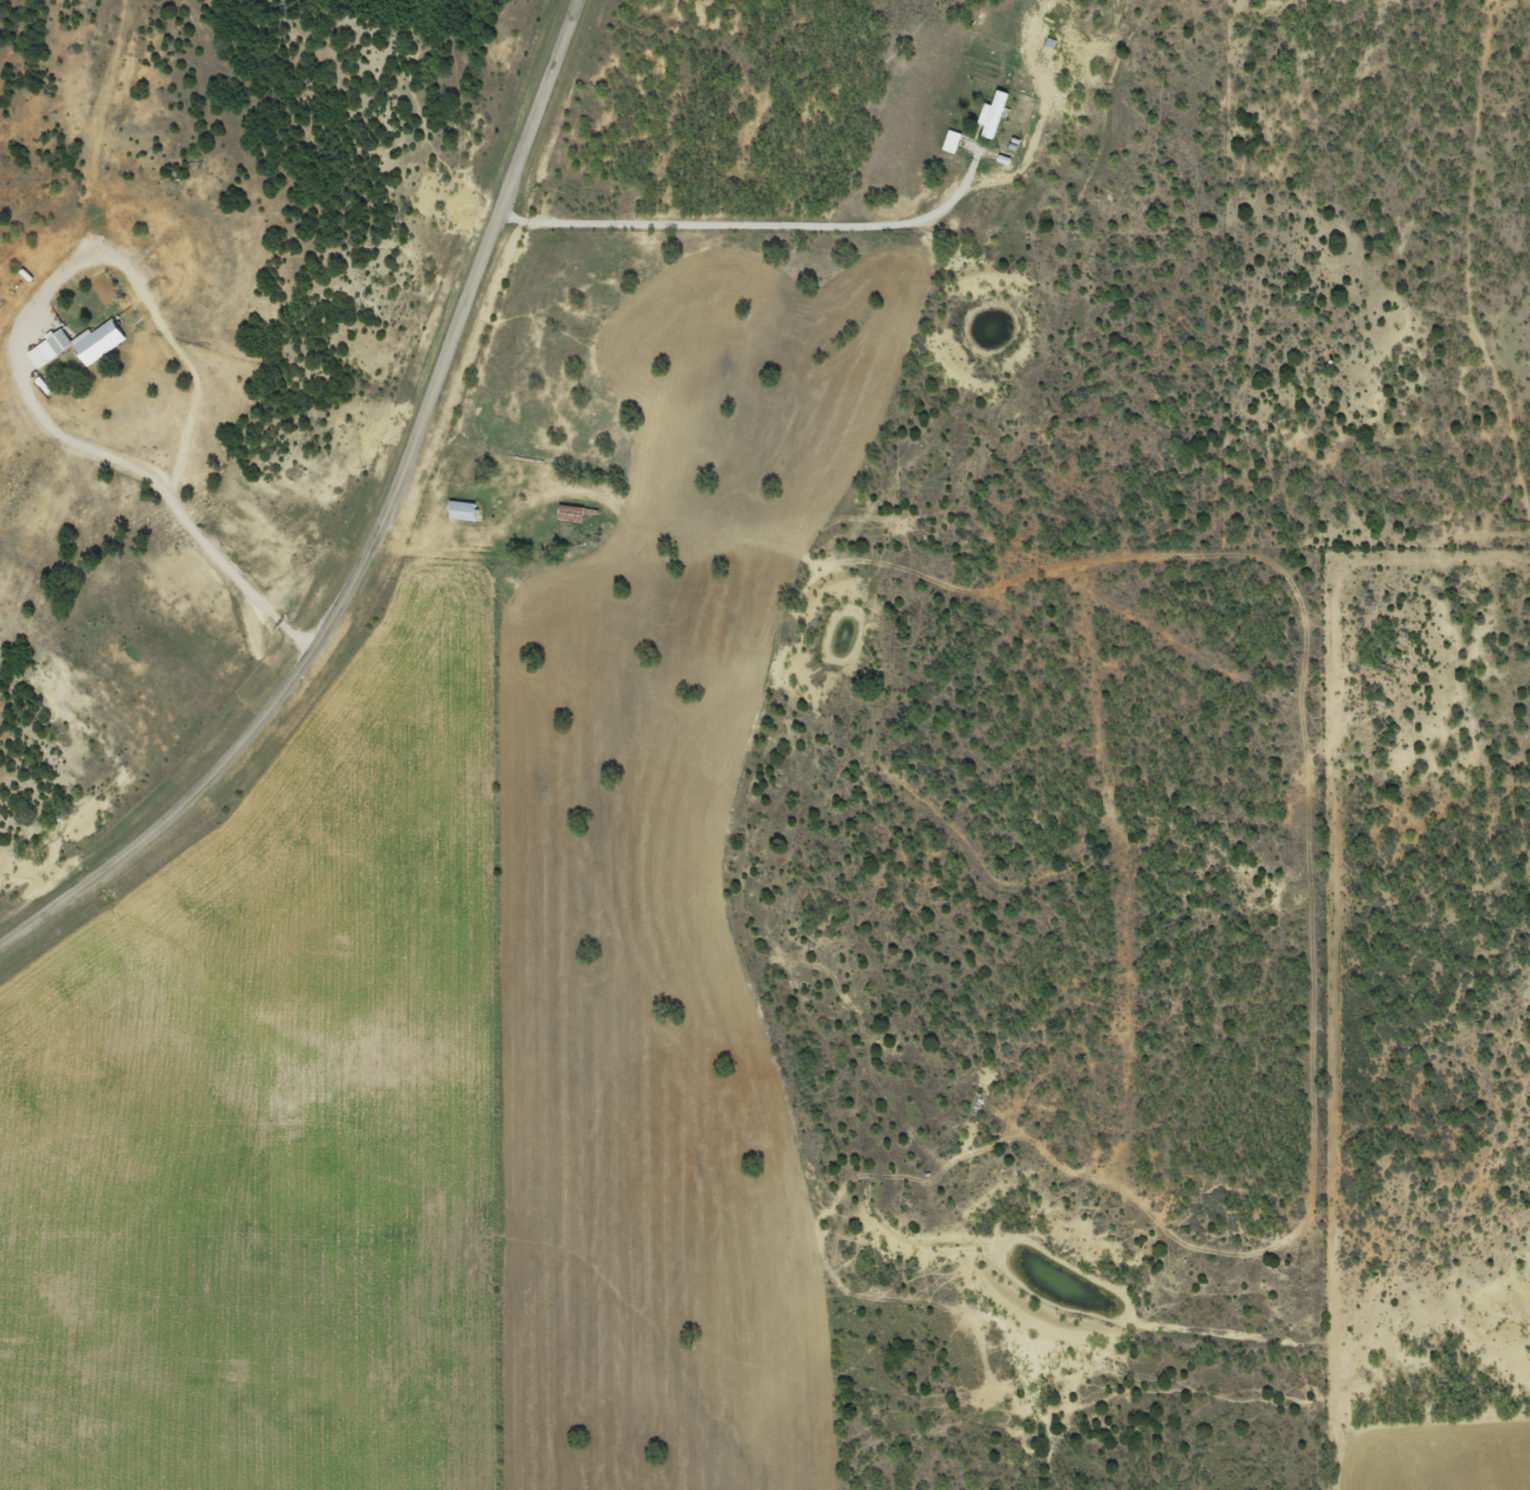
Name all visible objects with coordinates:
building: (992, 117)
building: (951, 144)
building: (90, 343)
building: (463, 513)
building: (570, 515)
road: (378, 533)

